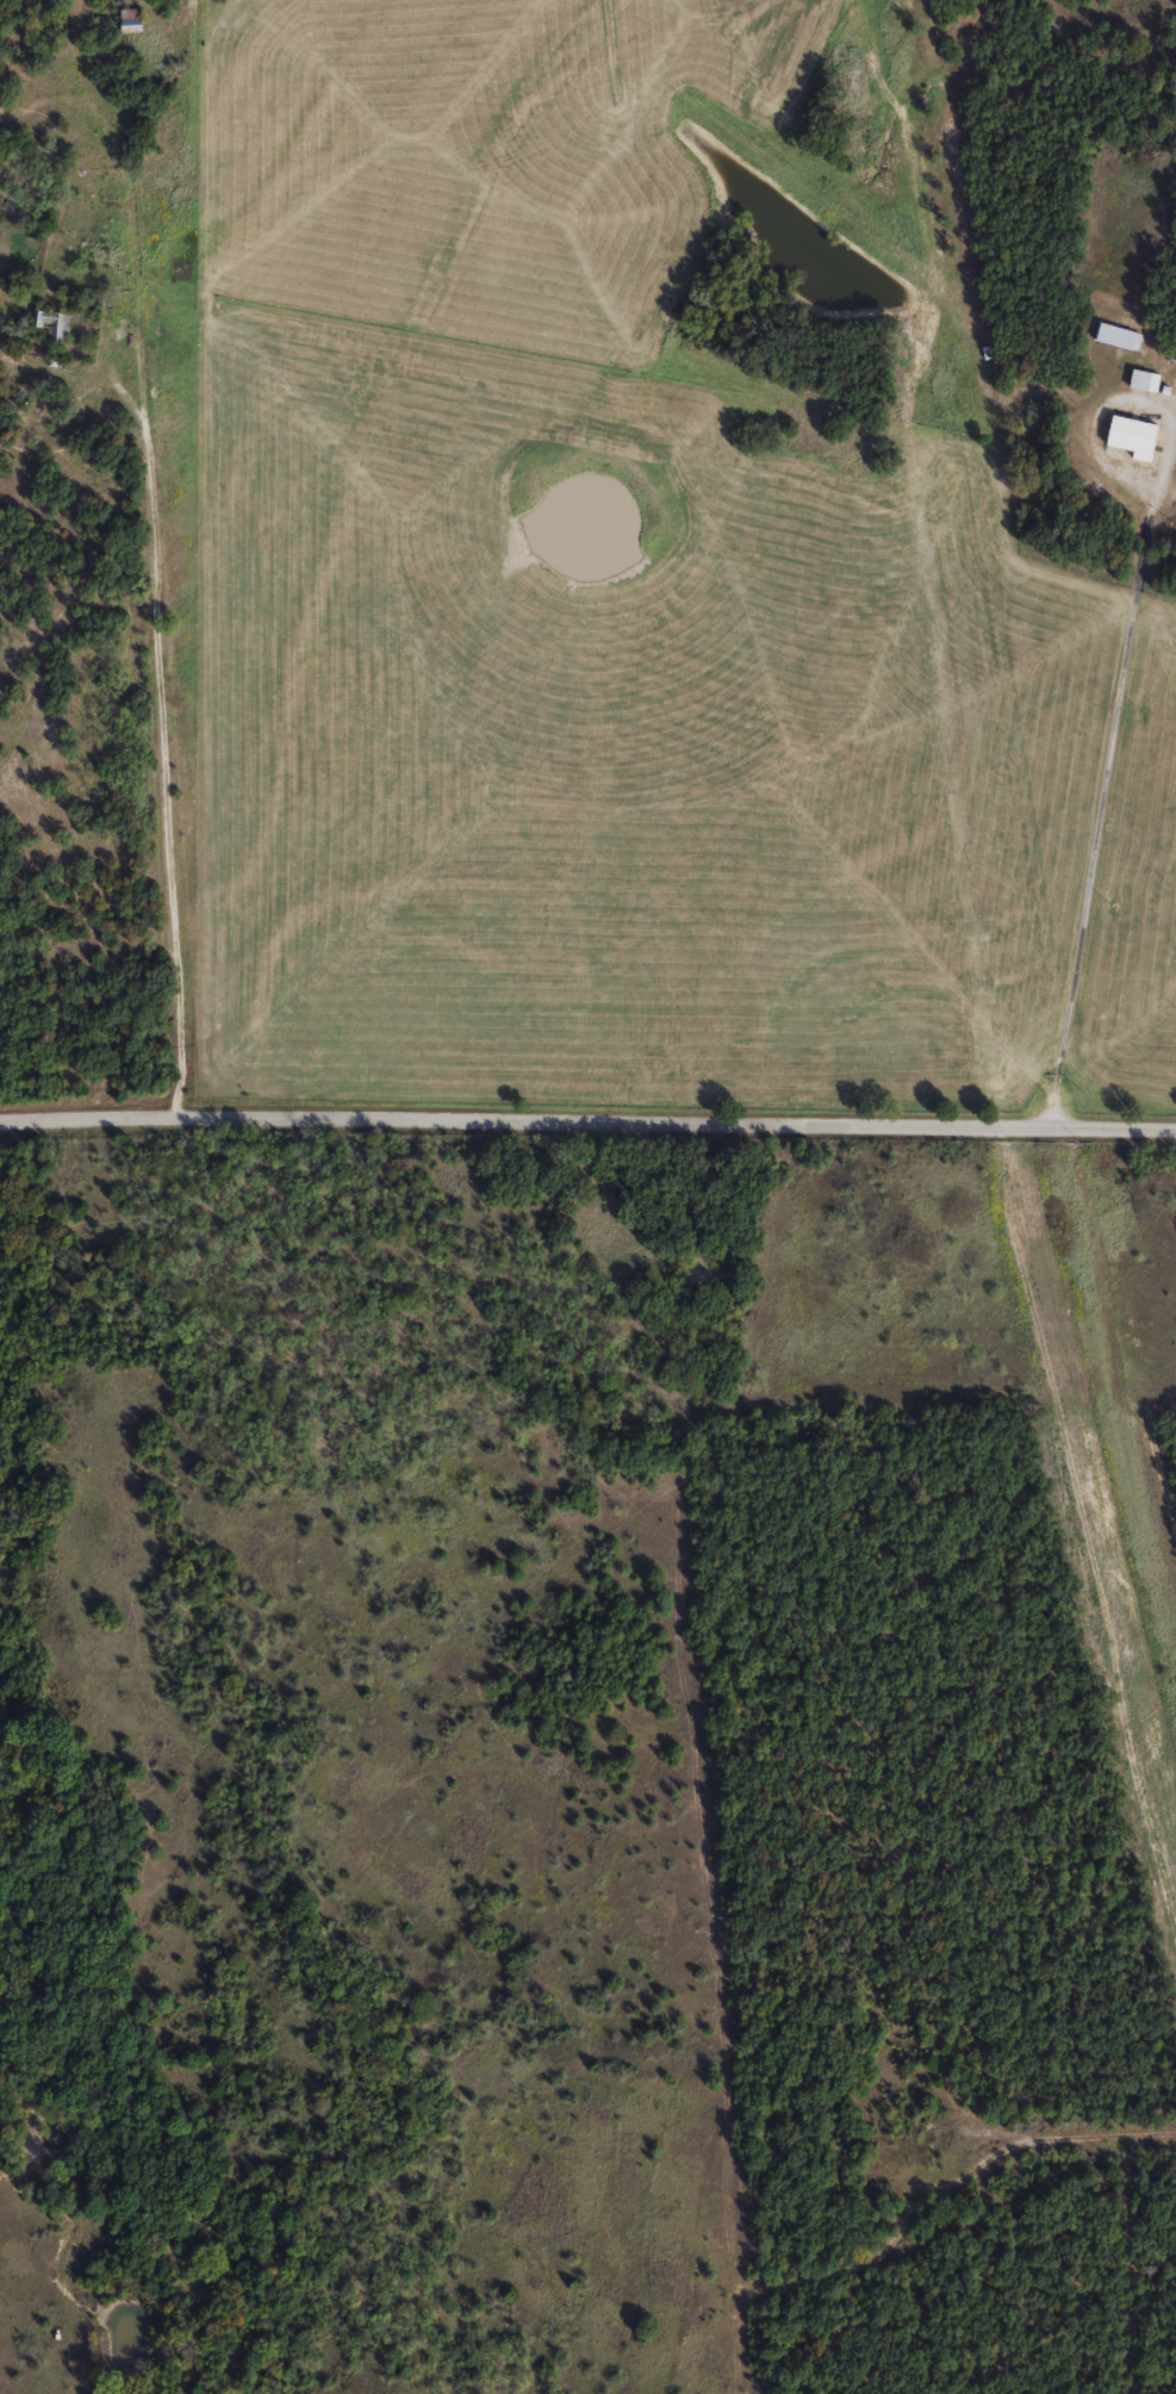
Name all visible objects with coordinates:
building: (130, 21)
building: (50, 324)
building: (1118, 337)
building: (1144, 380)
building: (1131, 437)
road: (157, 736)
road: (1109, 810)
road: (587, 1124)
road: (898, 2199)

